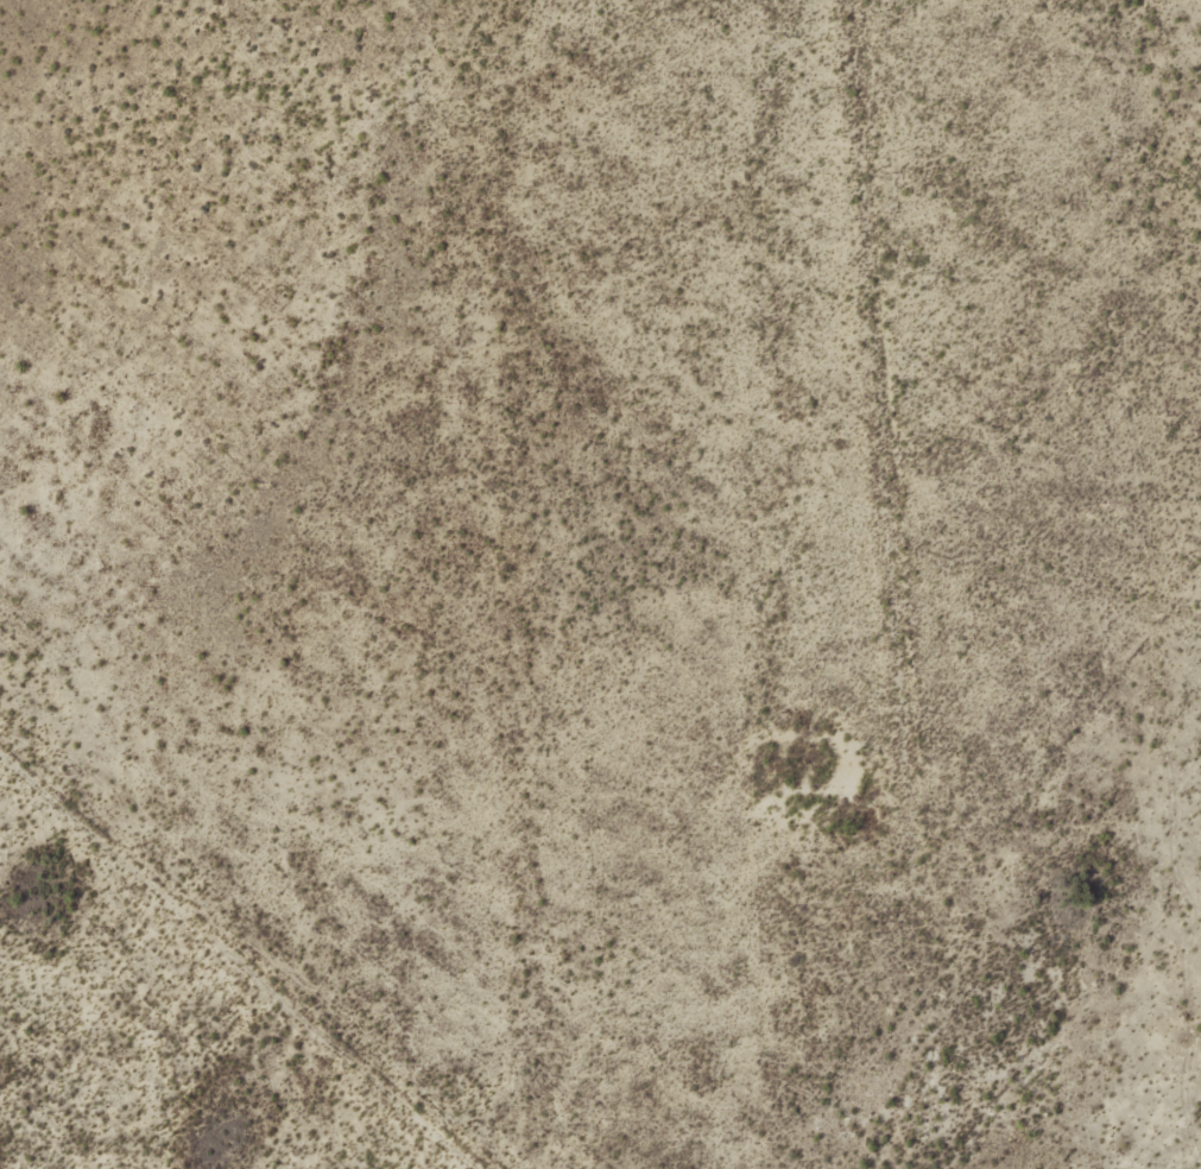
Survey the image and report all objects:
road: (240, 960)

